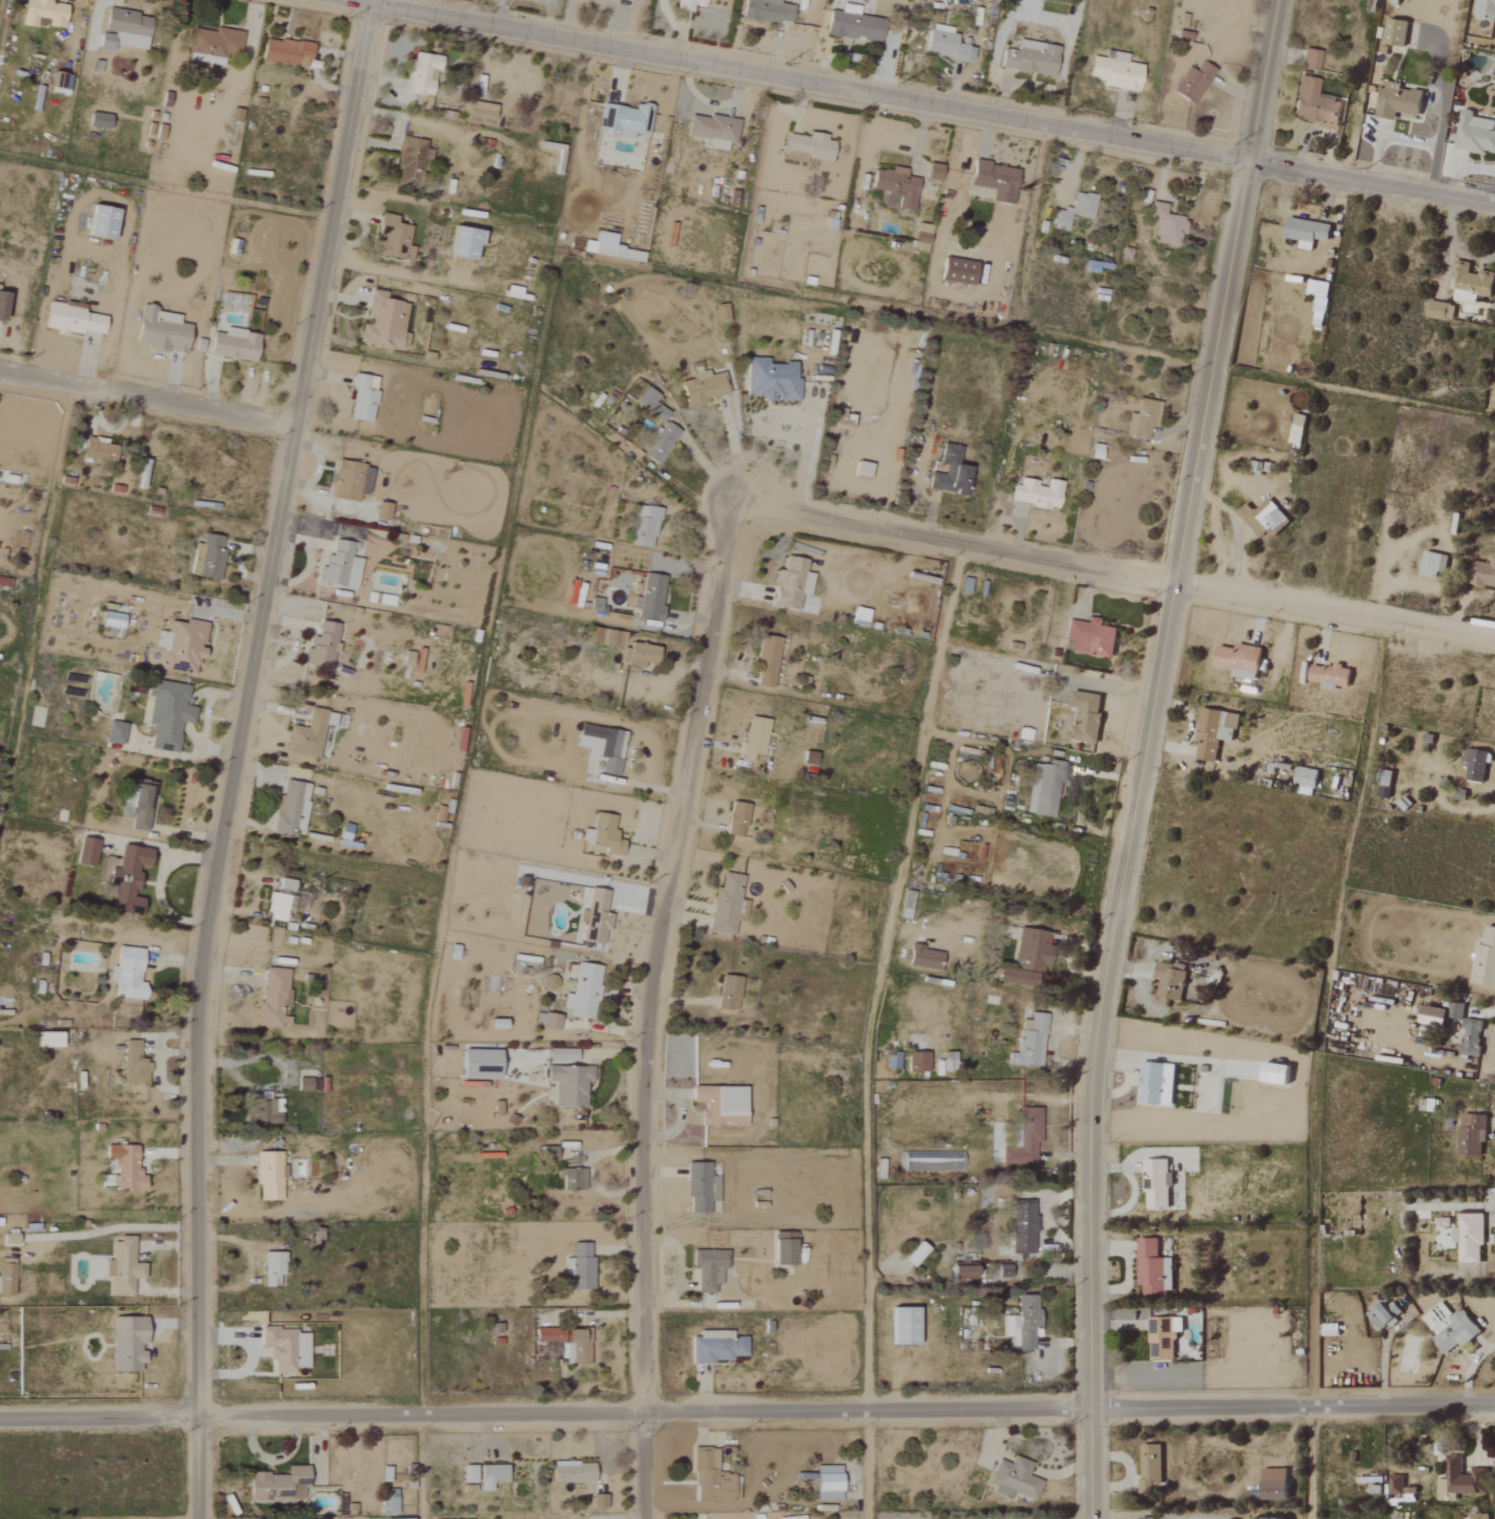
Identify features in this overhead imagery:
building: (641, 0)
building: (689, 5)
building: (1484, 9)
building: (765, 11)
building: (42, 12)
building: (851, 25)
building: (122, 29)
building: (1394, 33)
building: (946, 44)
building: (212, 45)
building: (285, 52)
building: (1029, 58)
building: (1309, 60)
building: (1113, 71)
road: (800, 77)
building: (421, 78)
road: (1260, 78)
building: (59, 83)
building: (1191, 83)
building: (1396, 101)
building: (623, 119)
building: (97, 120)
building: (712, 130)
building: (1474, 134)
building: (807, 148)
building: (410, 161)
building: (932, 171)
road: (1371, 179)
building: (994, 180)
building: (892, 182)
road: (164, 188)
building: (1074, 210)
building: (99, 221)
building: (1165, 225)
building: (1304, 231)
building: (921, 237)
building: (392, 238)
building: (461, 242)
building: (605, 245)
building: (631, 255)
building: (956, 271)
building: (1469, 283)
building: (511, 292)
building: (1317, 297)
building: (1, 304)
building: (1440, 310)
building: (72, 320)
building: (382, 321)
building: (159, 330)
building: (232, 345)
building: (770, 380)
building: (701, 388)
road: (147, 393)
building: (361, 398)
building: (650, 404)
building: (1143, 417)
building: (1296, 429)
building: (659, 443)
building: (98, 451)
building: (1094, 451)
road: (739, 456)
building: (948, 472)
building: (349, 481)
building: (1035, 493)
building: (381, 511)
building: (1262, 518)
building: (643, 526)
road: (946, 536)
building: (210, 556)
building: (1432, 564)
building: (338, 566)
building: (1483, 574)
building: (790, 583)
building: (649, 598)
road: (1333, 607)
building: (858, 616)
building: (1089, 637)
building: (611, 639)
building: (322, 644)
building: (180, 645)
building: (639, 655)
building: (1236, 660)
building: (765, 661)
building: (1328, 675)
building: (166, 714)
building: (1084, 715)
building: (113, 732)
building: (1212, 732)
building: (308, 734)
building: (752, 738)
building: (602, 745)
road: (236, 755)
building: (1475, 765)
building: (1304, 781)
building: (1047, 788)
building: (1381, 791)
building: (136, 804)
building: (290, 808)
building: (735, 819)
road: (1124, 833)
building: (601, 835)
building: (85, 852)
building: (124, 880)
building: (286, 885)
building: (726, 905)
building: (905, 905)
building: (277, 907)
building: (1031, 951)
building: (923, 958)
building: (1484, 960)
building: (126, 974)
building: (1013, 978)
building: (1168, 981)
building: (582, 992)
building: (727, 993)
building: (272, 999)
building: (1455, 1011)
building: (1431, 1017)
road: (648, 1018)
building: (550, 1022)
road: (867, 1023)
building: (1470, 1037)
building: (46, 1040)
building: (1030, 1043)
building: (560, 1055)
building: (916, 1061)
building: (477, 1064)
building: (133, 1065)
building: (1273, 1074)
building: (568, 1084)
building: (1155, 1084)
building: (302, 1085)
building: (719, 1105)
building: (267, 1112)
building: (1471, 1134)
building: (1023, 1139)
building: (547, 1153)
building: (124, 1167)
building: (268, 1177)
building: (575, 1180)
building: (1155, 1183)
building: (699, 1188)
building: (1022, 1227)
building: (1464, 1236)
building: (7, 1239)
building: (782, 1249)
building: (912, 1254)
building: (121, 1267)
building: (579, 1267)
building: (271, 1268)
building: (1152, 1268)
building: (708, 1270)
building: (960, 1270)
building: (6, 1277)
building: (1384, 1314)
building: (900, 1325)
building: (1454, 1333)
building: (1162, 1336)
building: (126, 1344)
building: (567, 1344)
building: (715, 1347)
building: (284, 1349)
road: (1292, 1402)
road: (544, 1411)
road: (1309, 1460)
building: (1148, 1464)
road: (421, 1466)
building: (468, 1473)
building: (571, 1473)
building: (490, 1475)
building: (1013, 1478)
building: (1463, 1478)
building: (711, 1479)
building: (827, 1482)
building: (1272, 1483)
building: (277, 1484)
building: (1398, 1485)
building: (1442, 1491)
building: (388, 1501)
building: (599, 1501)
road: (1134, 1514)
building: (1477, 1517)
building: (404, 1518)
building: (1145, 1518)
building: (1267, 1518)

